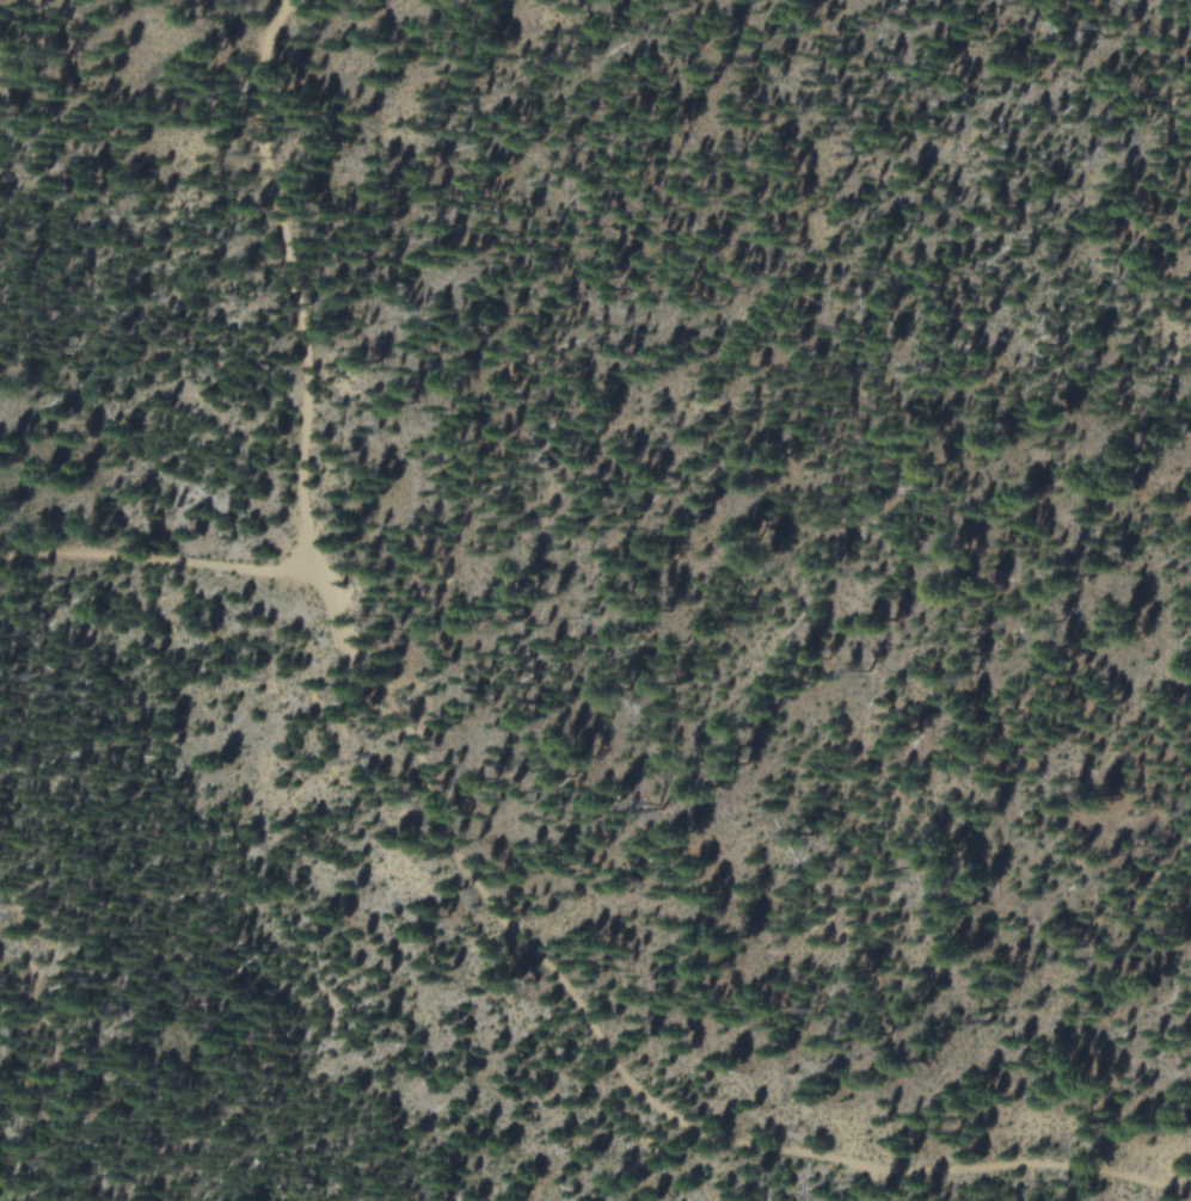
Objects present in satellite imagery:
road: (291, 283)
road: (532, 946)

